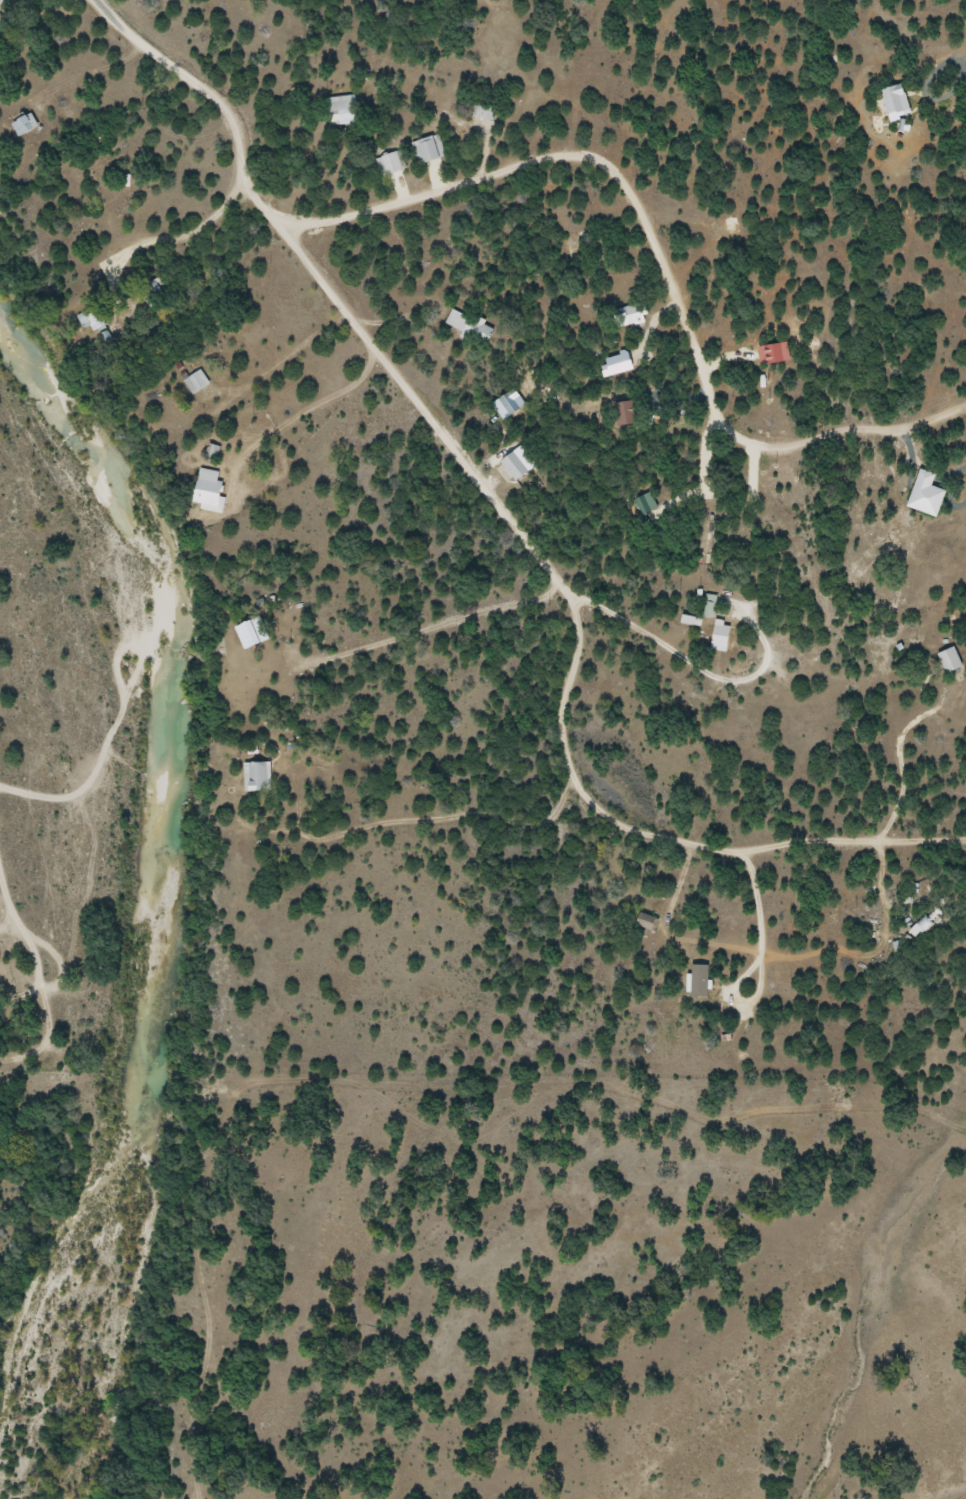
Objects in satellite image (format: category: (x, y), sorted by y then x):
road: (957, 14)
building: (342, 109)
building: (484, 110)
building: (25, 124)
building: (429, 149)
building: (392, 161)
building: (155, 293)
building: (631, 315)
building: (93, 318)
building: (471, 326)
road: (293, 355)
building: (197, 381)
building: (516, 465)
building: (209, 491)
building: (710, 605)
building: (253, 632)
building: (721, 636)
building: (951, 659)
building: (257, 776)
river: (145, 841)
building: (647, 921)
building: (925, 924)

